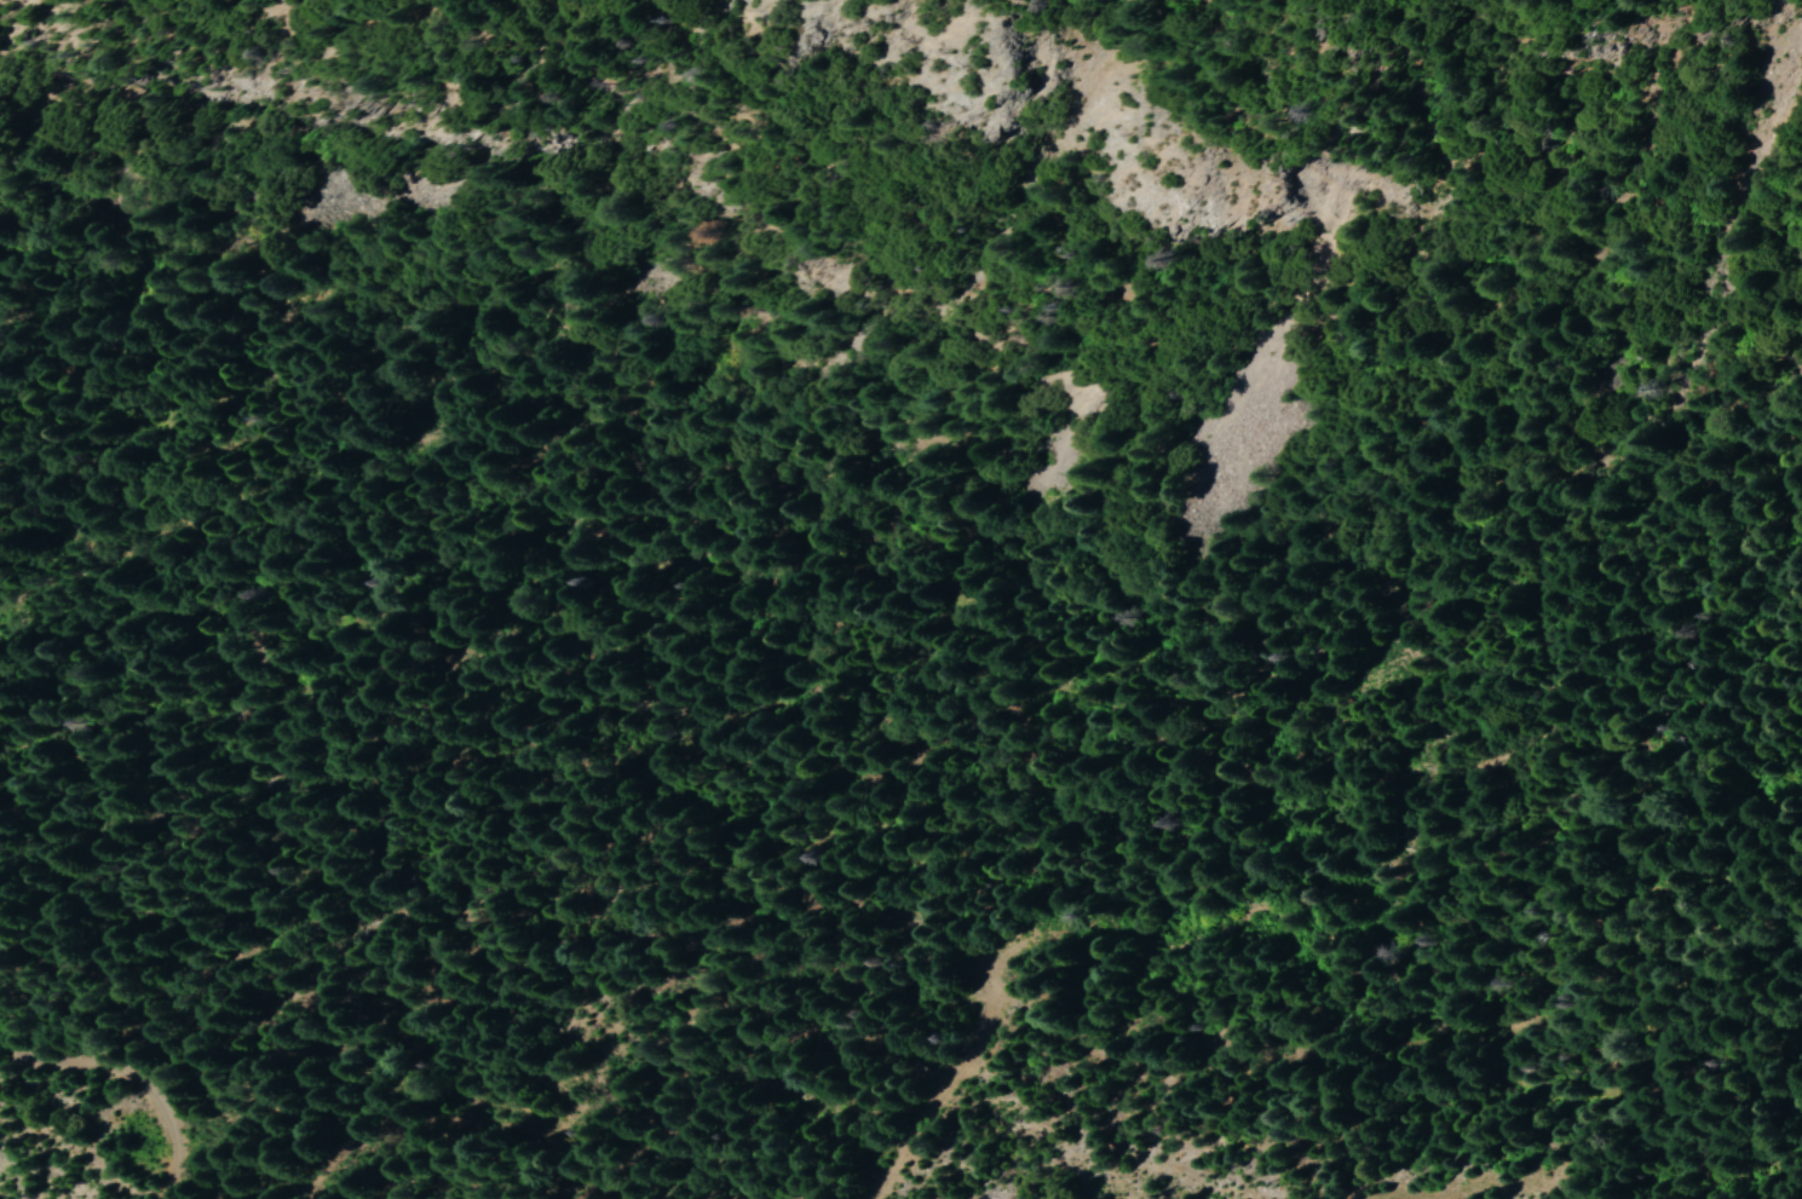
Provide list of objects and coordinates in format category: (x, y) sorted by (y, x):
road: (128, 1080)

